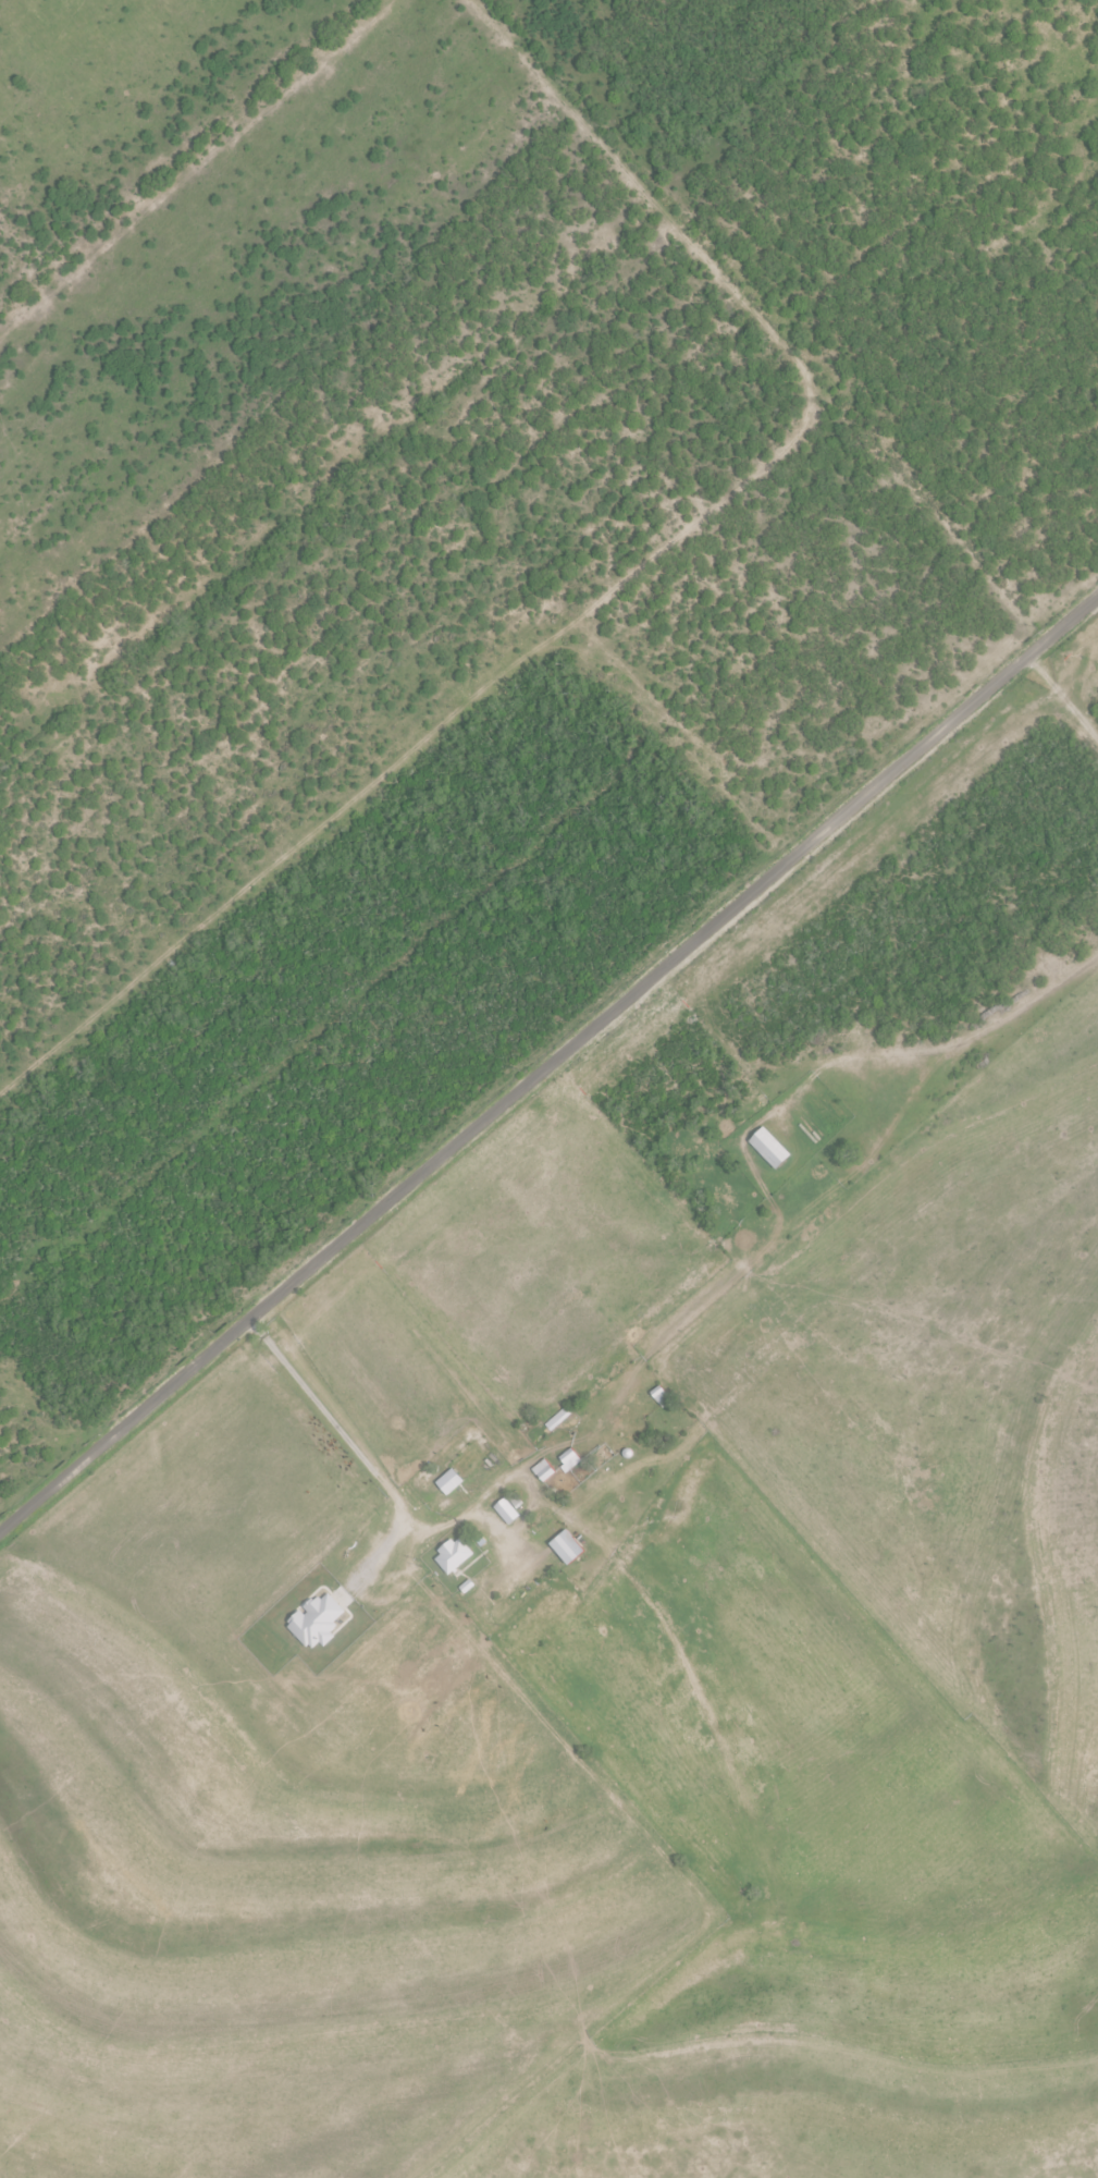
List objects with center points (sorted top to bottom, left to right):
road: (550, 1090)
building: (769, 1150)
building: (659, 1398)
building: (568, 1463)
building: (459, 1471)
building: (507, 1515)
road: (398, 1539)
building: (566, 1550)
building: (453, 1557)

